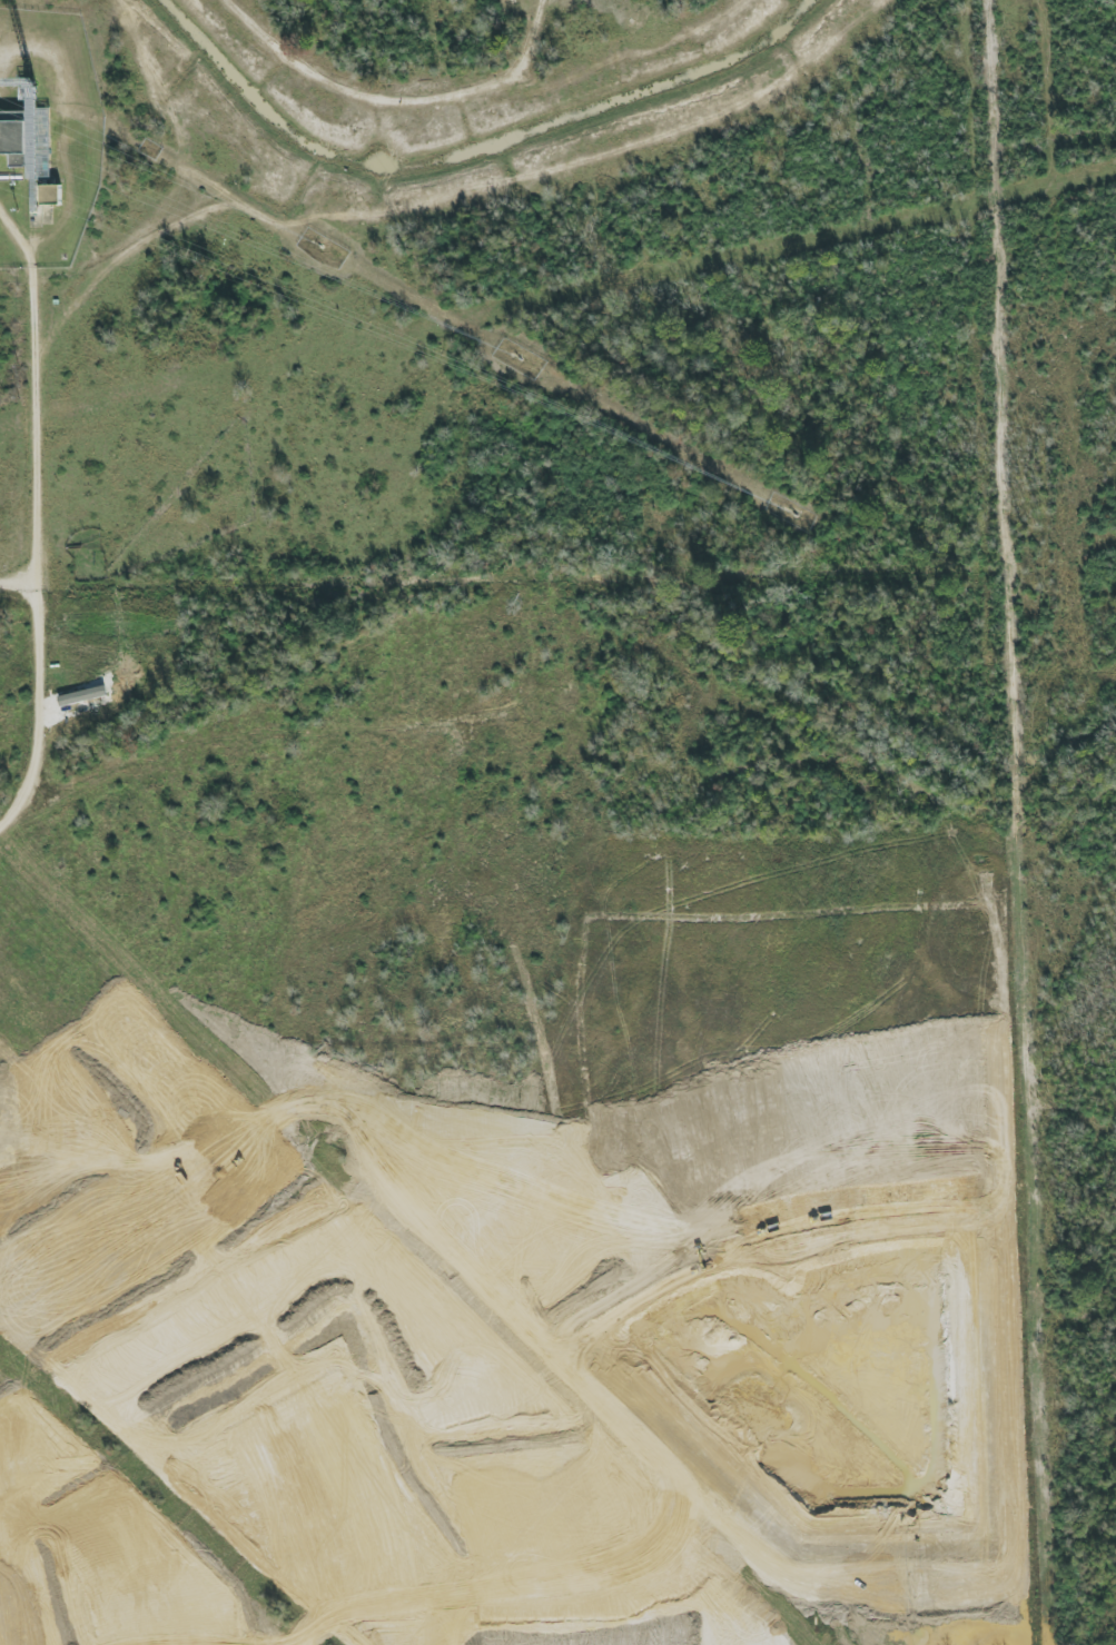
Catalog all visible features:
building: (51, 195)
road: (36, 519)
road: (19, 586)
road: (302, 1359)
road: (10, 1373)
road: (471, 1448)
road: (237, 1529)
road: (33, 1549)
road: (564, 1643)

